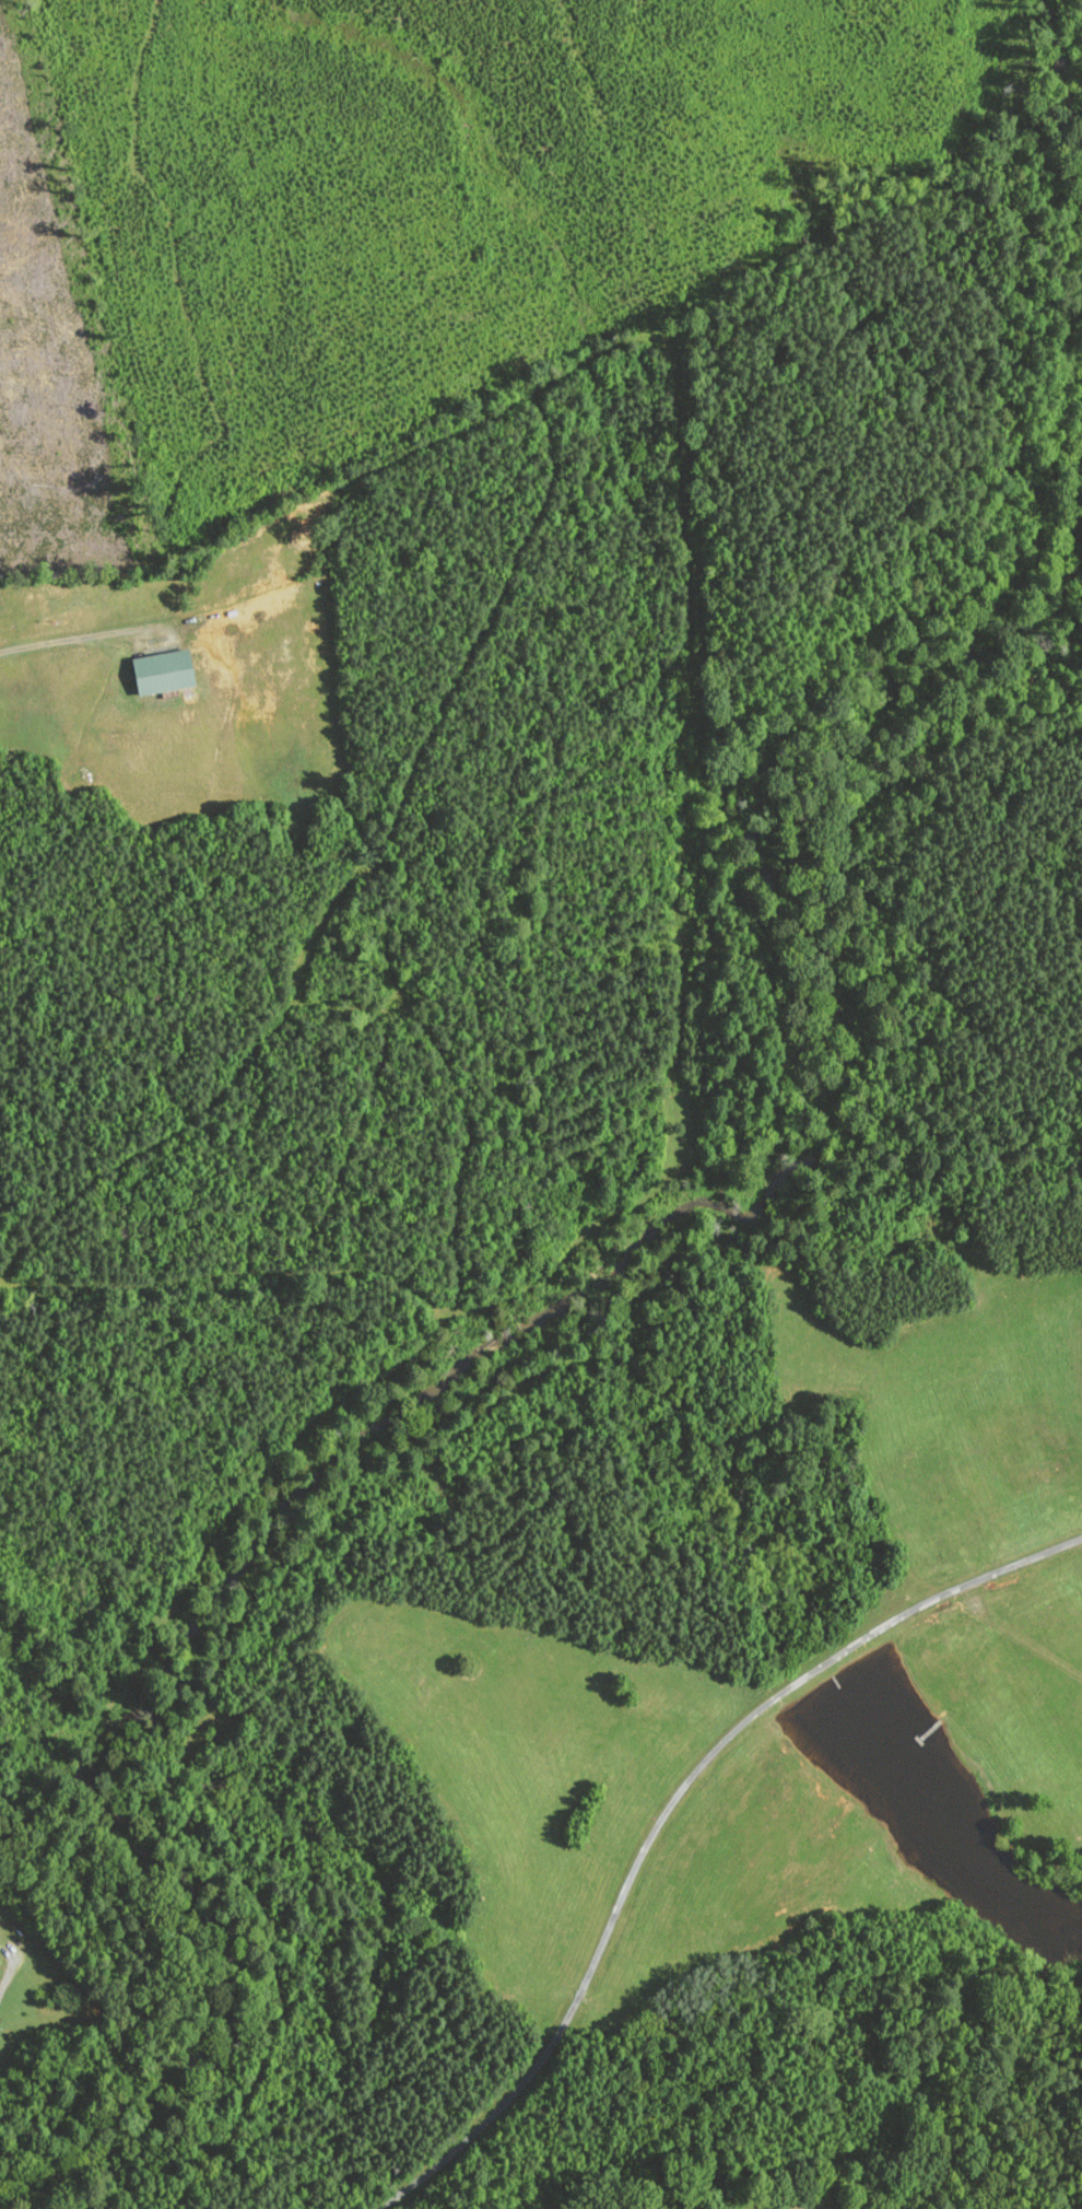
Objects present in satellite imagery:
road: (57, 643)
building: (166, 670)
road: (668, 1810)
crop: (742, 1878)
building: (0, 1961)
road: (3, 1986)

